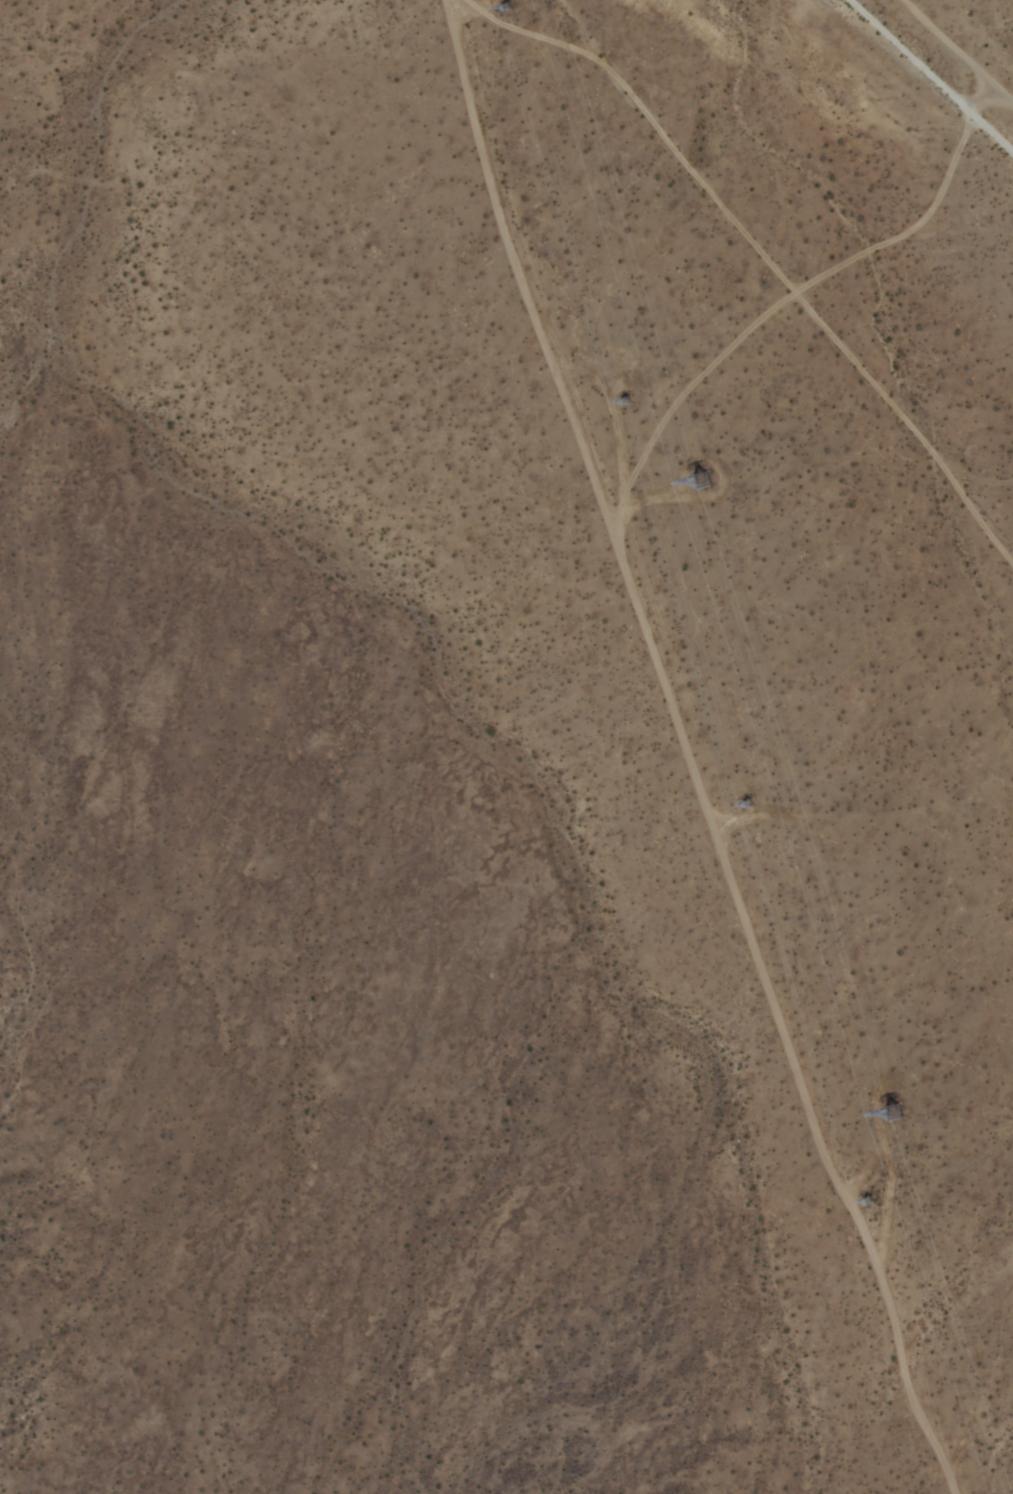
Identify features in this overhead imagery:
power tower: (497, 12)
power tower: (628, 407)
power tower: (701, 483)
power tower: (741, 804)
power tower: (890, 1117)
power tower: (866, 1202)

